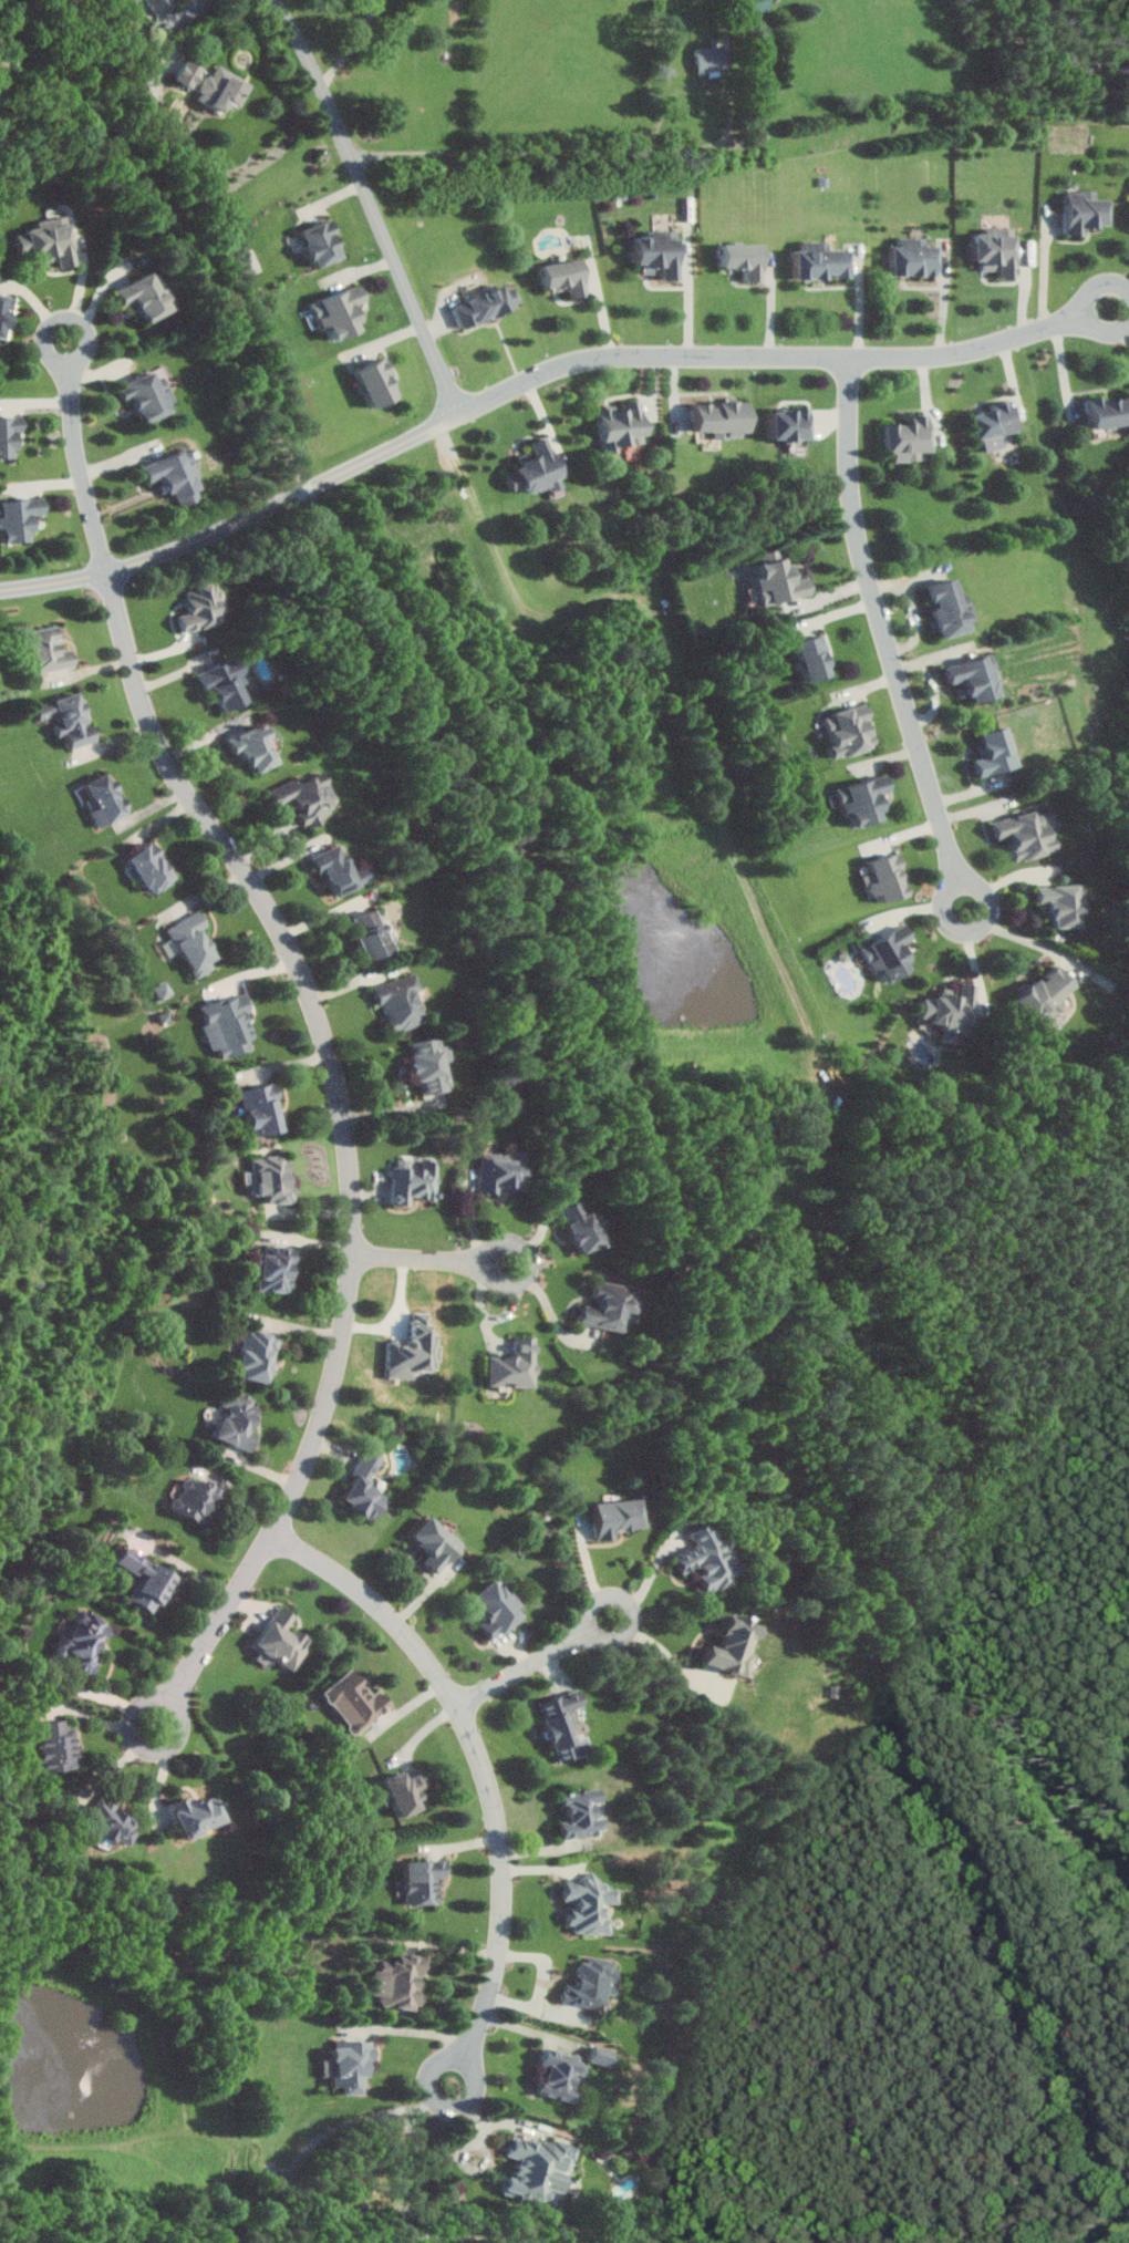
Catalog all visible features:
building: (160, 6)
road: (352, 44)
building: (711, 59)
building: (214, 85)
road: (569, 153)
road: (371, 204)
building: (1086, 209)
building: (51, 240)
building: (321, 240)
building: (997, 249)
building: (660, 250)
building: (551, 254)
building: (914, 256)
building: (744, 257)
road: (1048, 271)
building: (143, 293)
building: (487, 303)
road: (1092, 304)
building: (339, 310)
building: (4, 311)
road: (1127, 328)
road: (773, 360)
building: (375, 380)
building: (147, 394)
road: (74, 400)
building: (1109, 410)
building: (721, 416)
building: (790, 422)
building: (994, 423)
building: (621, 425)
building: (9, 434)
building: (908, 436)
building: (537, 467)
building: (174, 475)
road: (310, 486)
building: (19, 517)
road: (83, 580)
building: (779, 580)
building: (203, 606)
building: (950, 607)
road: (890, 638)
building: (48, 650)
building: (815, 657)
building: (975, 676)
building: (225, 682)
building: (69, 716)
road: (417, 727)
building: (850, 731)
building: (253, 746)
building: (995, 751)
building: (304, 796)
building: (104, 798)
building: (864, 798)
building: (1028, 833)
building: (151, 867)
building: (339, 869)
building: (887, 877)
building: (1063, 902)
road: (919, 907)
building: (373, 933)
road: (1027, 938)
building: (194, 943)
building: (890, 952)
building: (1045, 993)
building: (400, 1001)
building: (952, 1011)
building: (229, 1024)
building: (429, 1065)
building: (261, 1109)
road: (351, 1145)
building: (503, 1171)
building: (271, 1179)
building: (414, 1180)
building: (581, 1224)
road: (547, 1227)
road: (434, 1259)
building: (277, 1268)
building: (610, 1306)
building: (257, 1355)
building: (515, 1365)
road: (959, 1395)
building: (238, 1419)
building: (364, 1486)
building: (196, 1499)
building: (618, 1517)
building: (436, 1543)
building: (709, 1559)
road: (189, 1565)
road: (652, 1578)
building: (146, 1580)
building: (497, 1609)
building: (85, 1641)
building: (281, 1641)
building: (734, 1647)
road: (538, 1660)
building: (355, 1702)
road: (100, 1718)
building: (56, 1746)
road: (117, 1764)
road: (484, 1769)
road: (165, 1775)
building: (407, 1791)
road: (954, 1810)
building: (580, 1812)
building: (197, 1816)
building: (112, 1820)
building: (423, 1881)
building: (591, 1904)
building: (400, 1982)
road: (545, 1983)
building: (591, 1984)
building: (350, 2066)
building: (562, 2073)
road: (490, 2123)
building: (540, 2167)
road: (1069, 2205)

